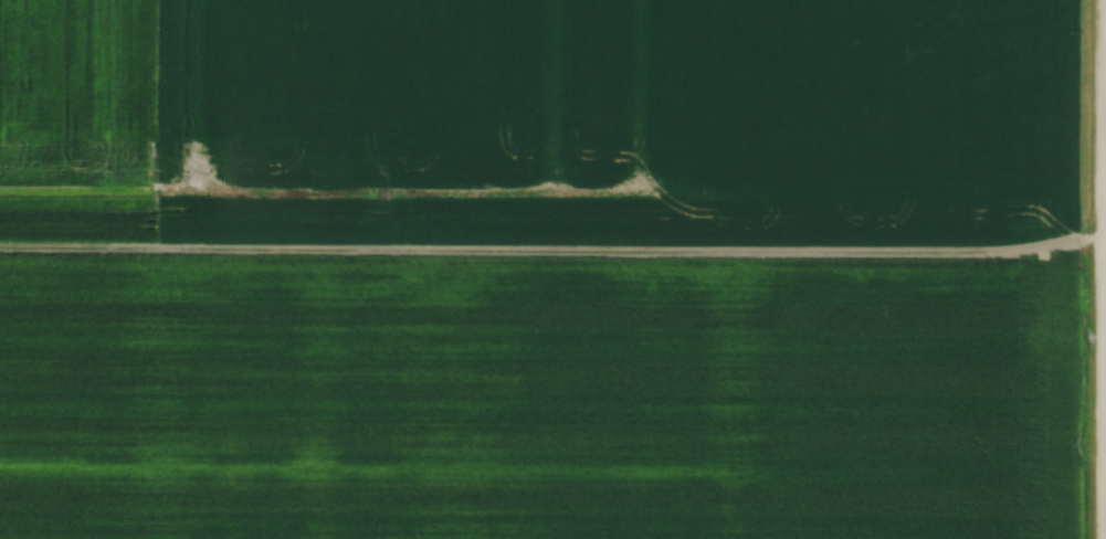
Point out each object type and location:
road: (1105, 225)
road: (1105, 269)
road: (1105, 466)

